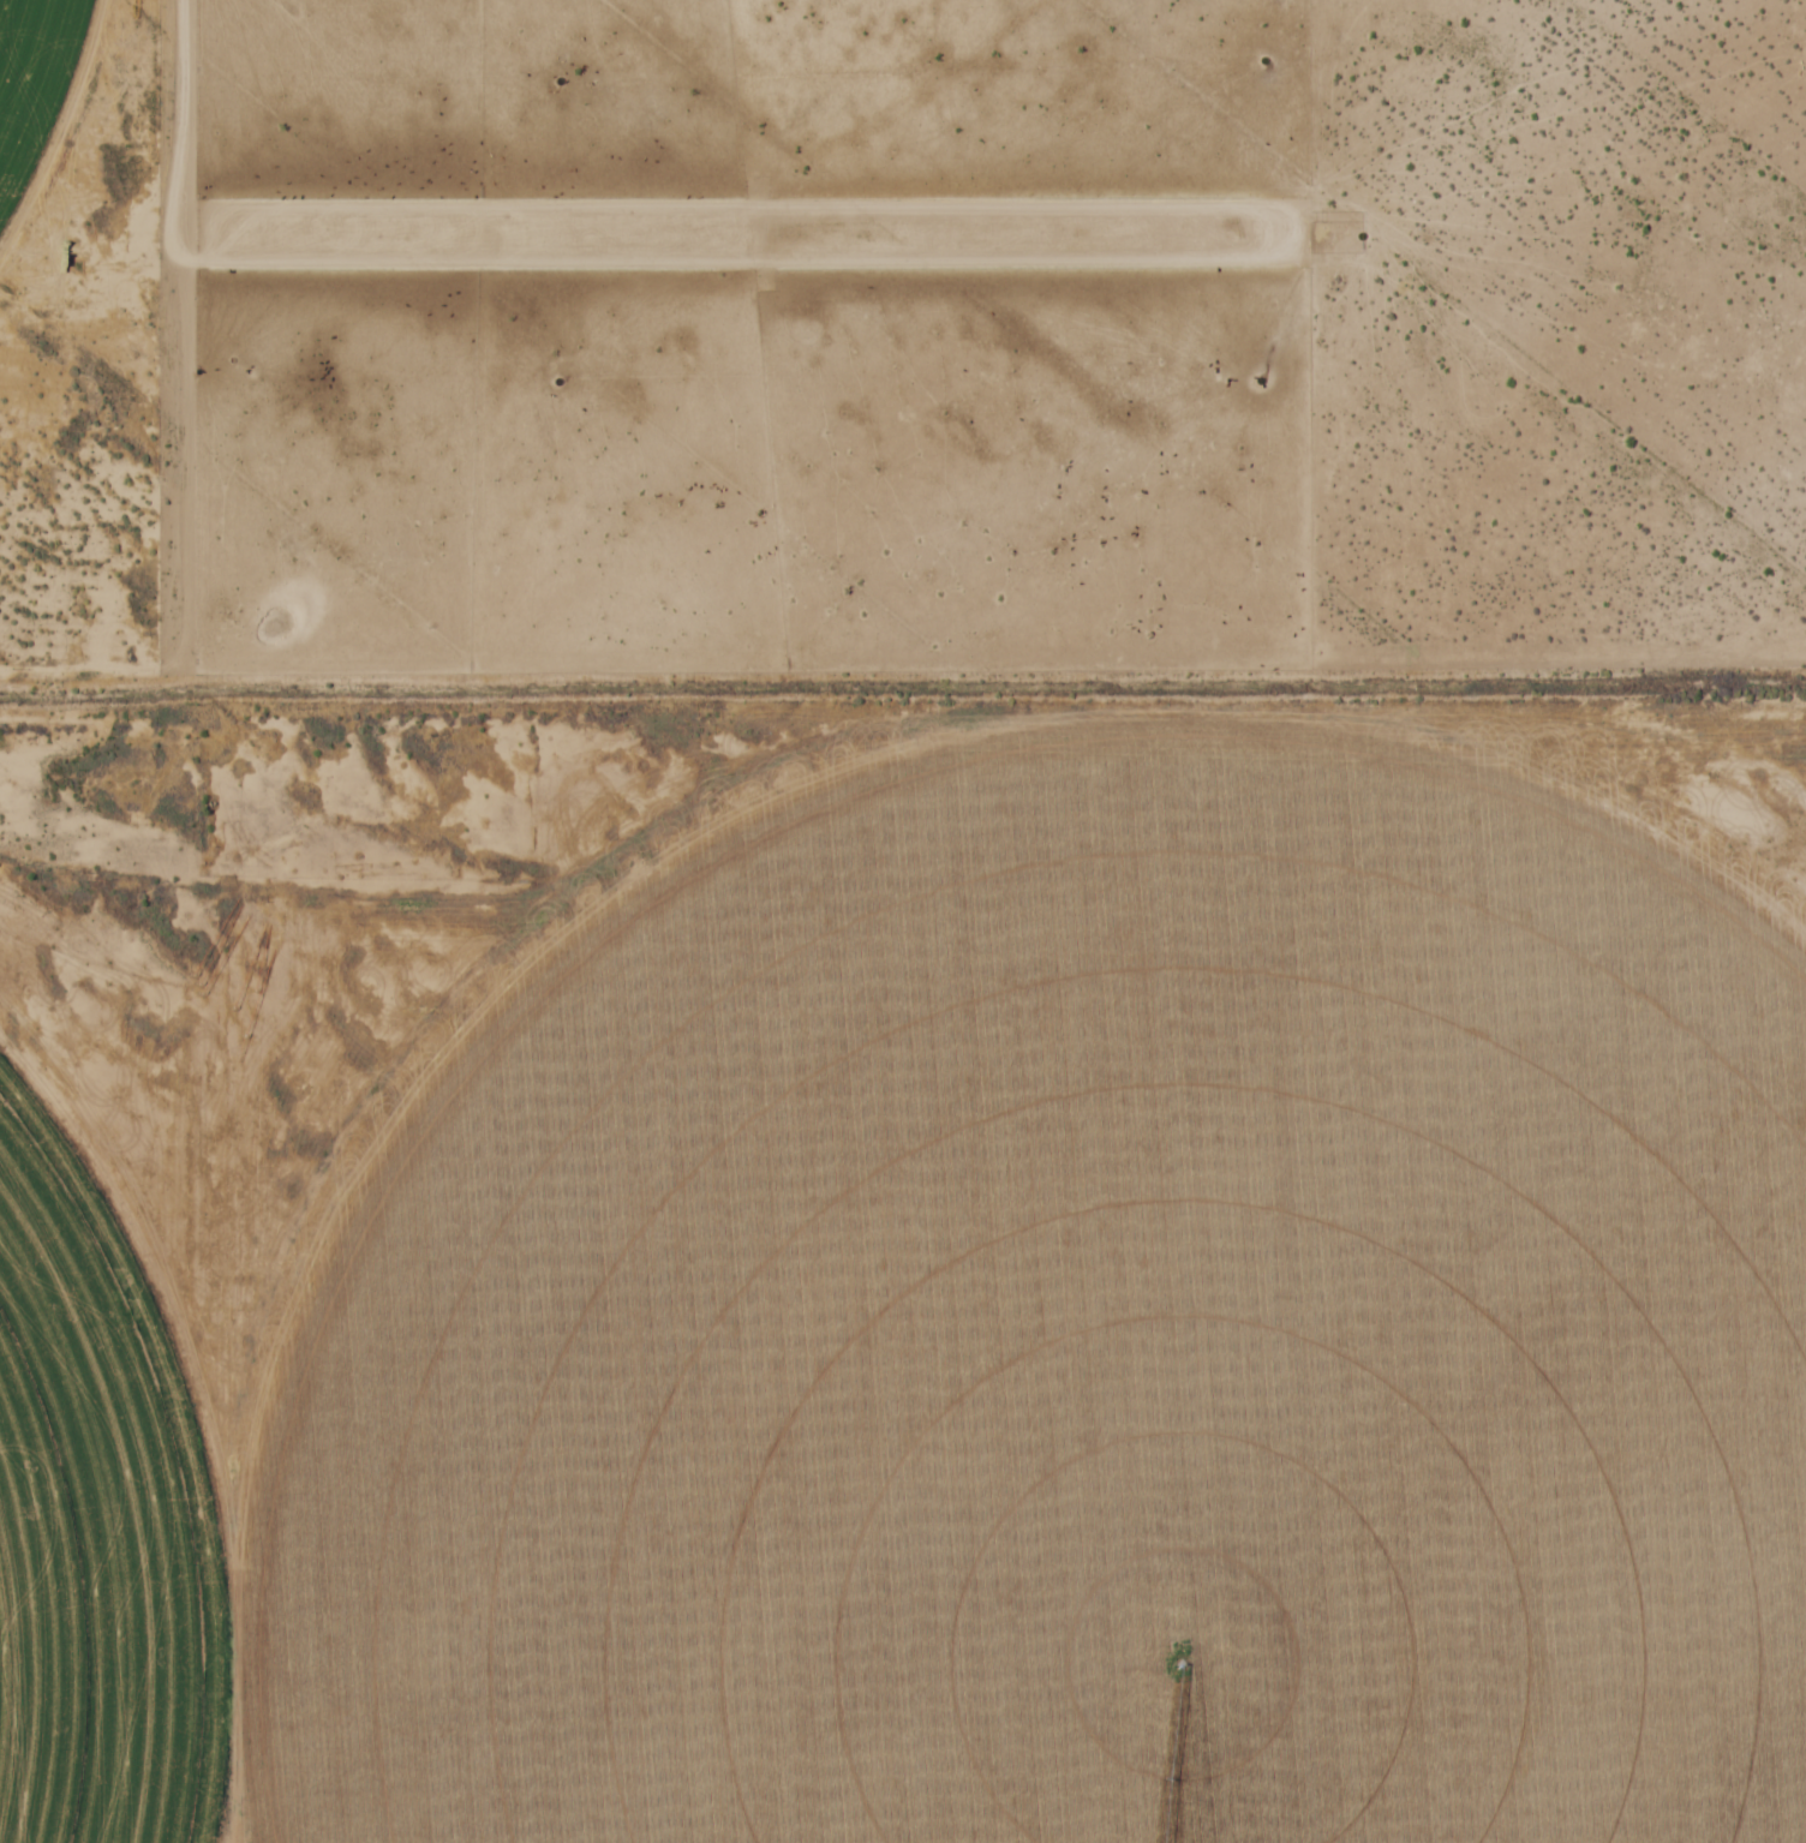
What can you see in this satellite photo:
crop: (1080, 1336)
crop: (101, 1536)

